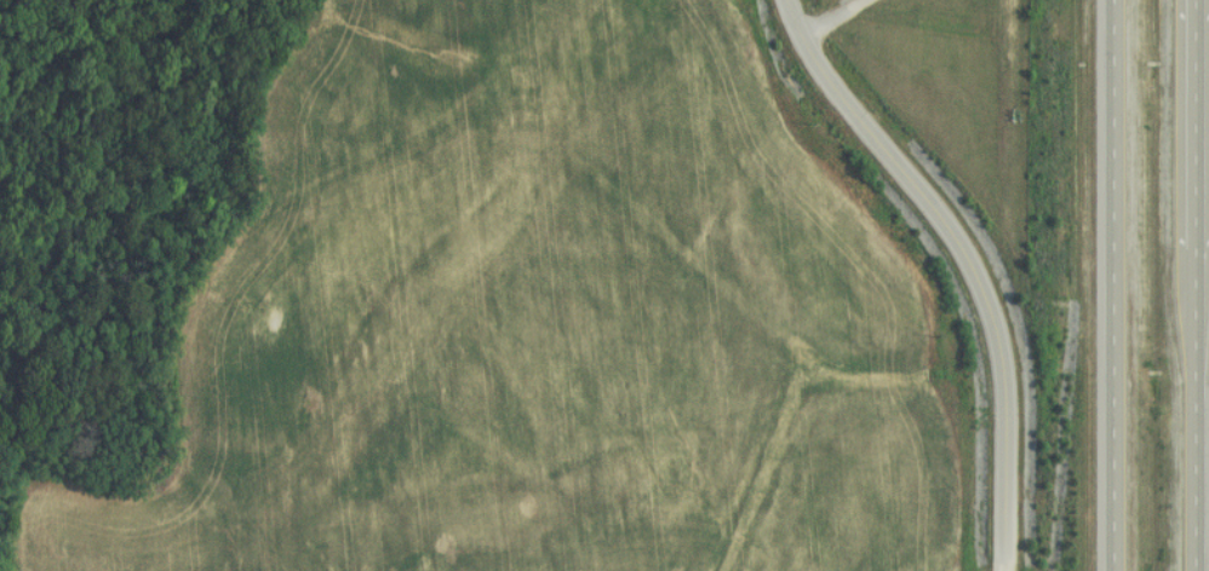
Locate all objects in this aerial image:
road: (959, 259)
road: (1107, 285)
road: (1190, 285)

